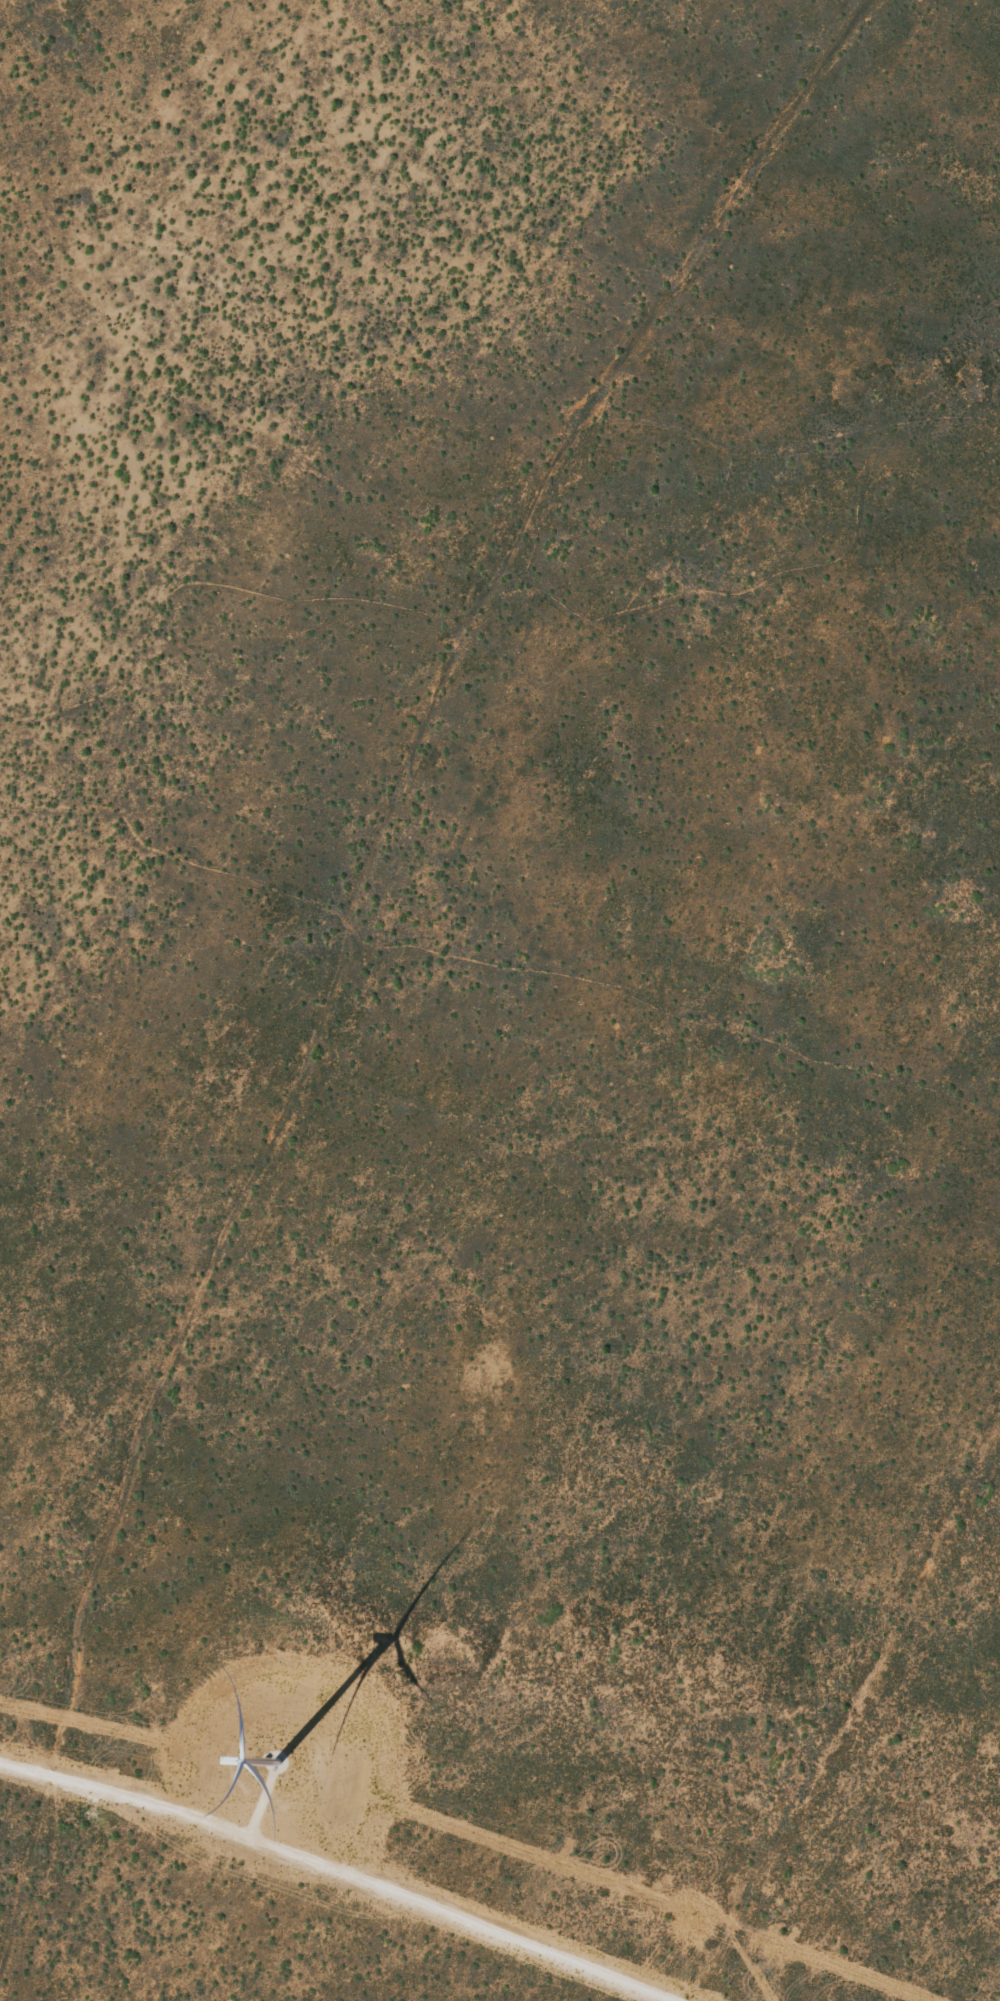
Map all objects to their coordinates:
wind turbine: (258, 1766)

